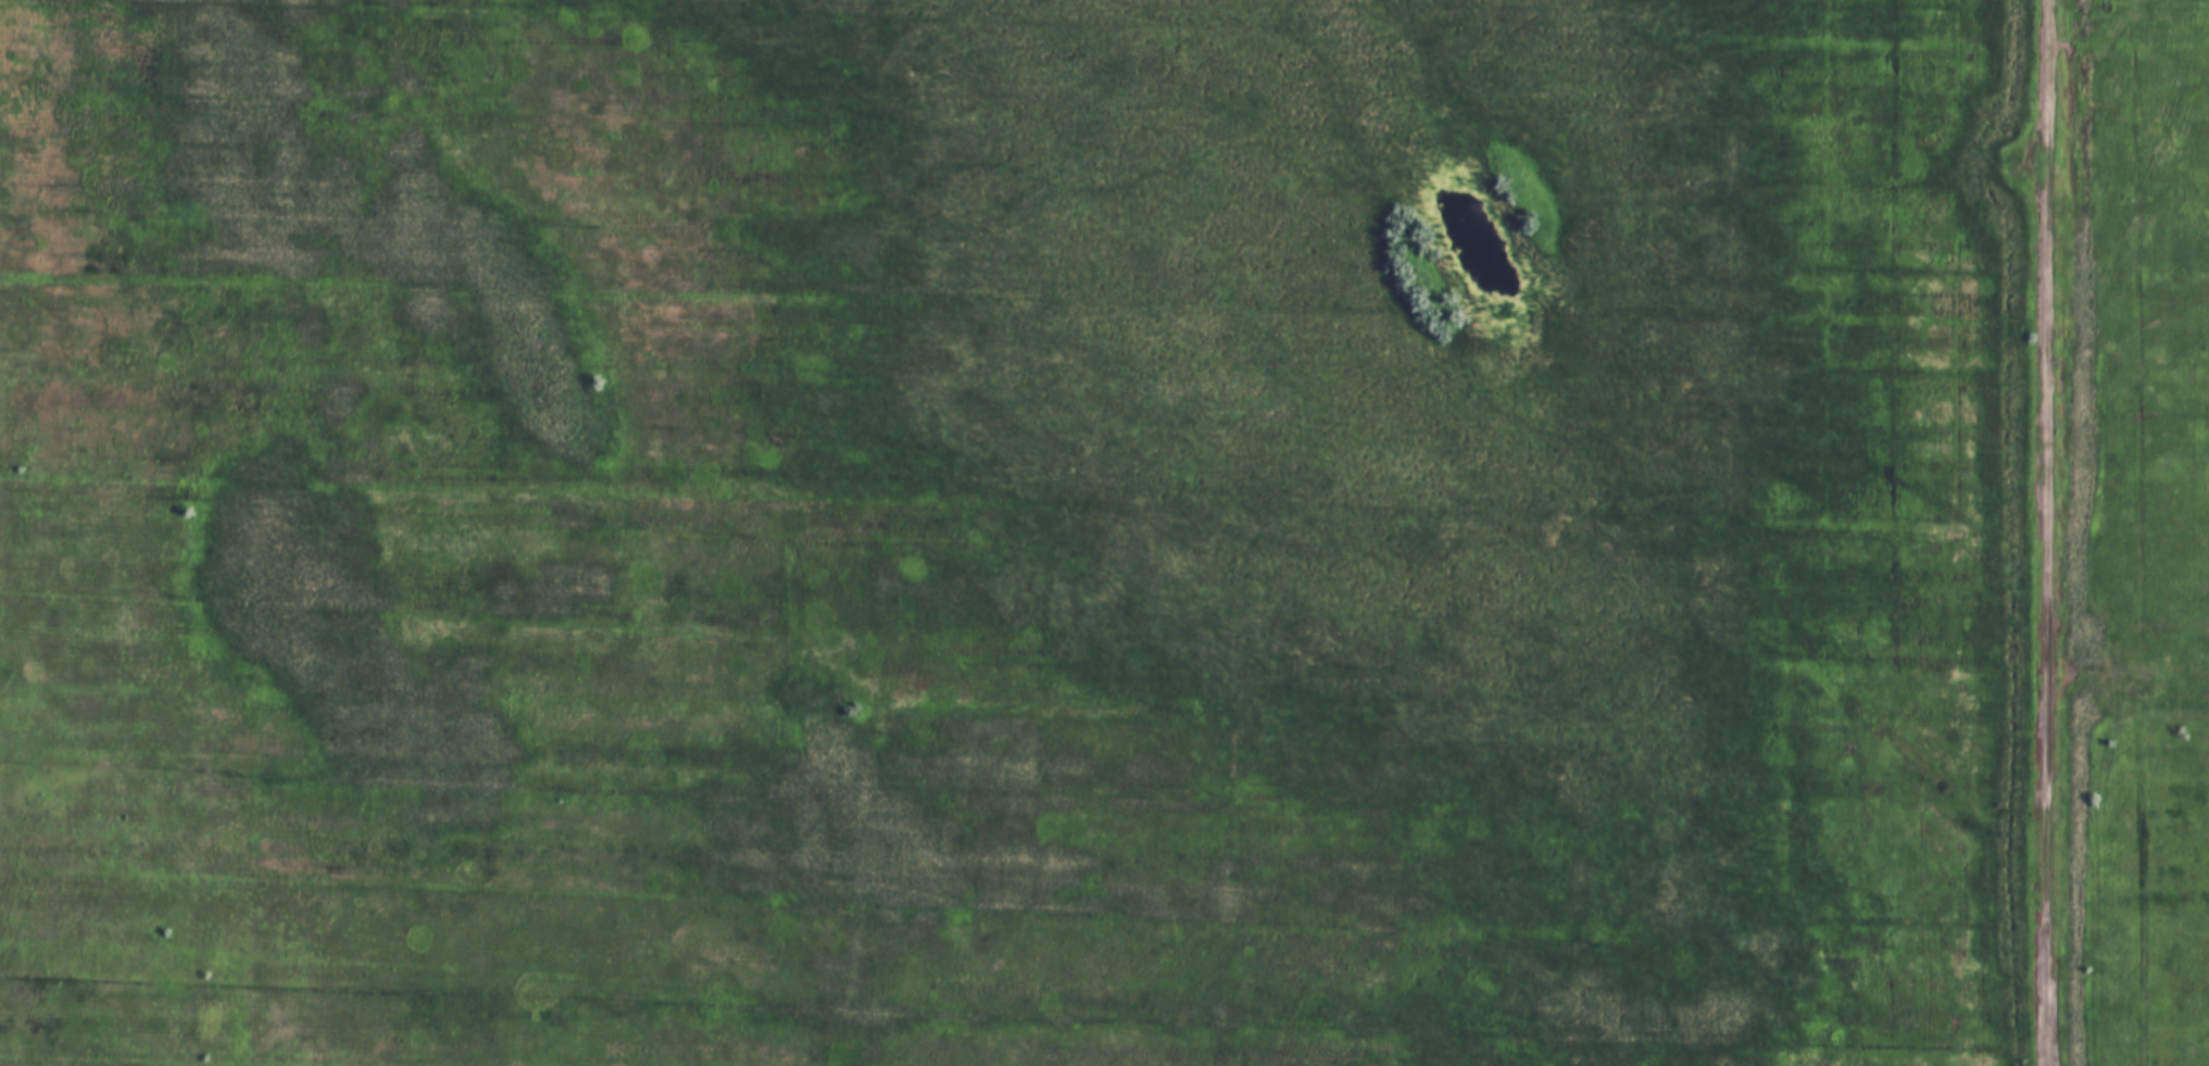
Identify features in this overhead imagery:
airport: (1009, 532)
road: (2055, 532)

